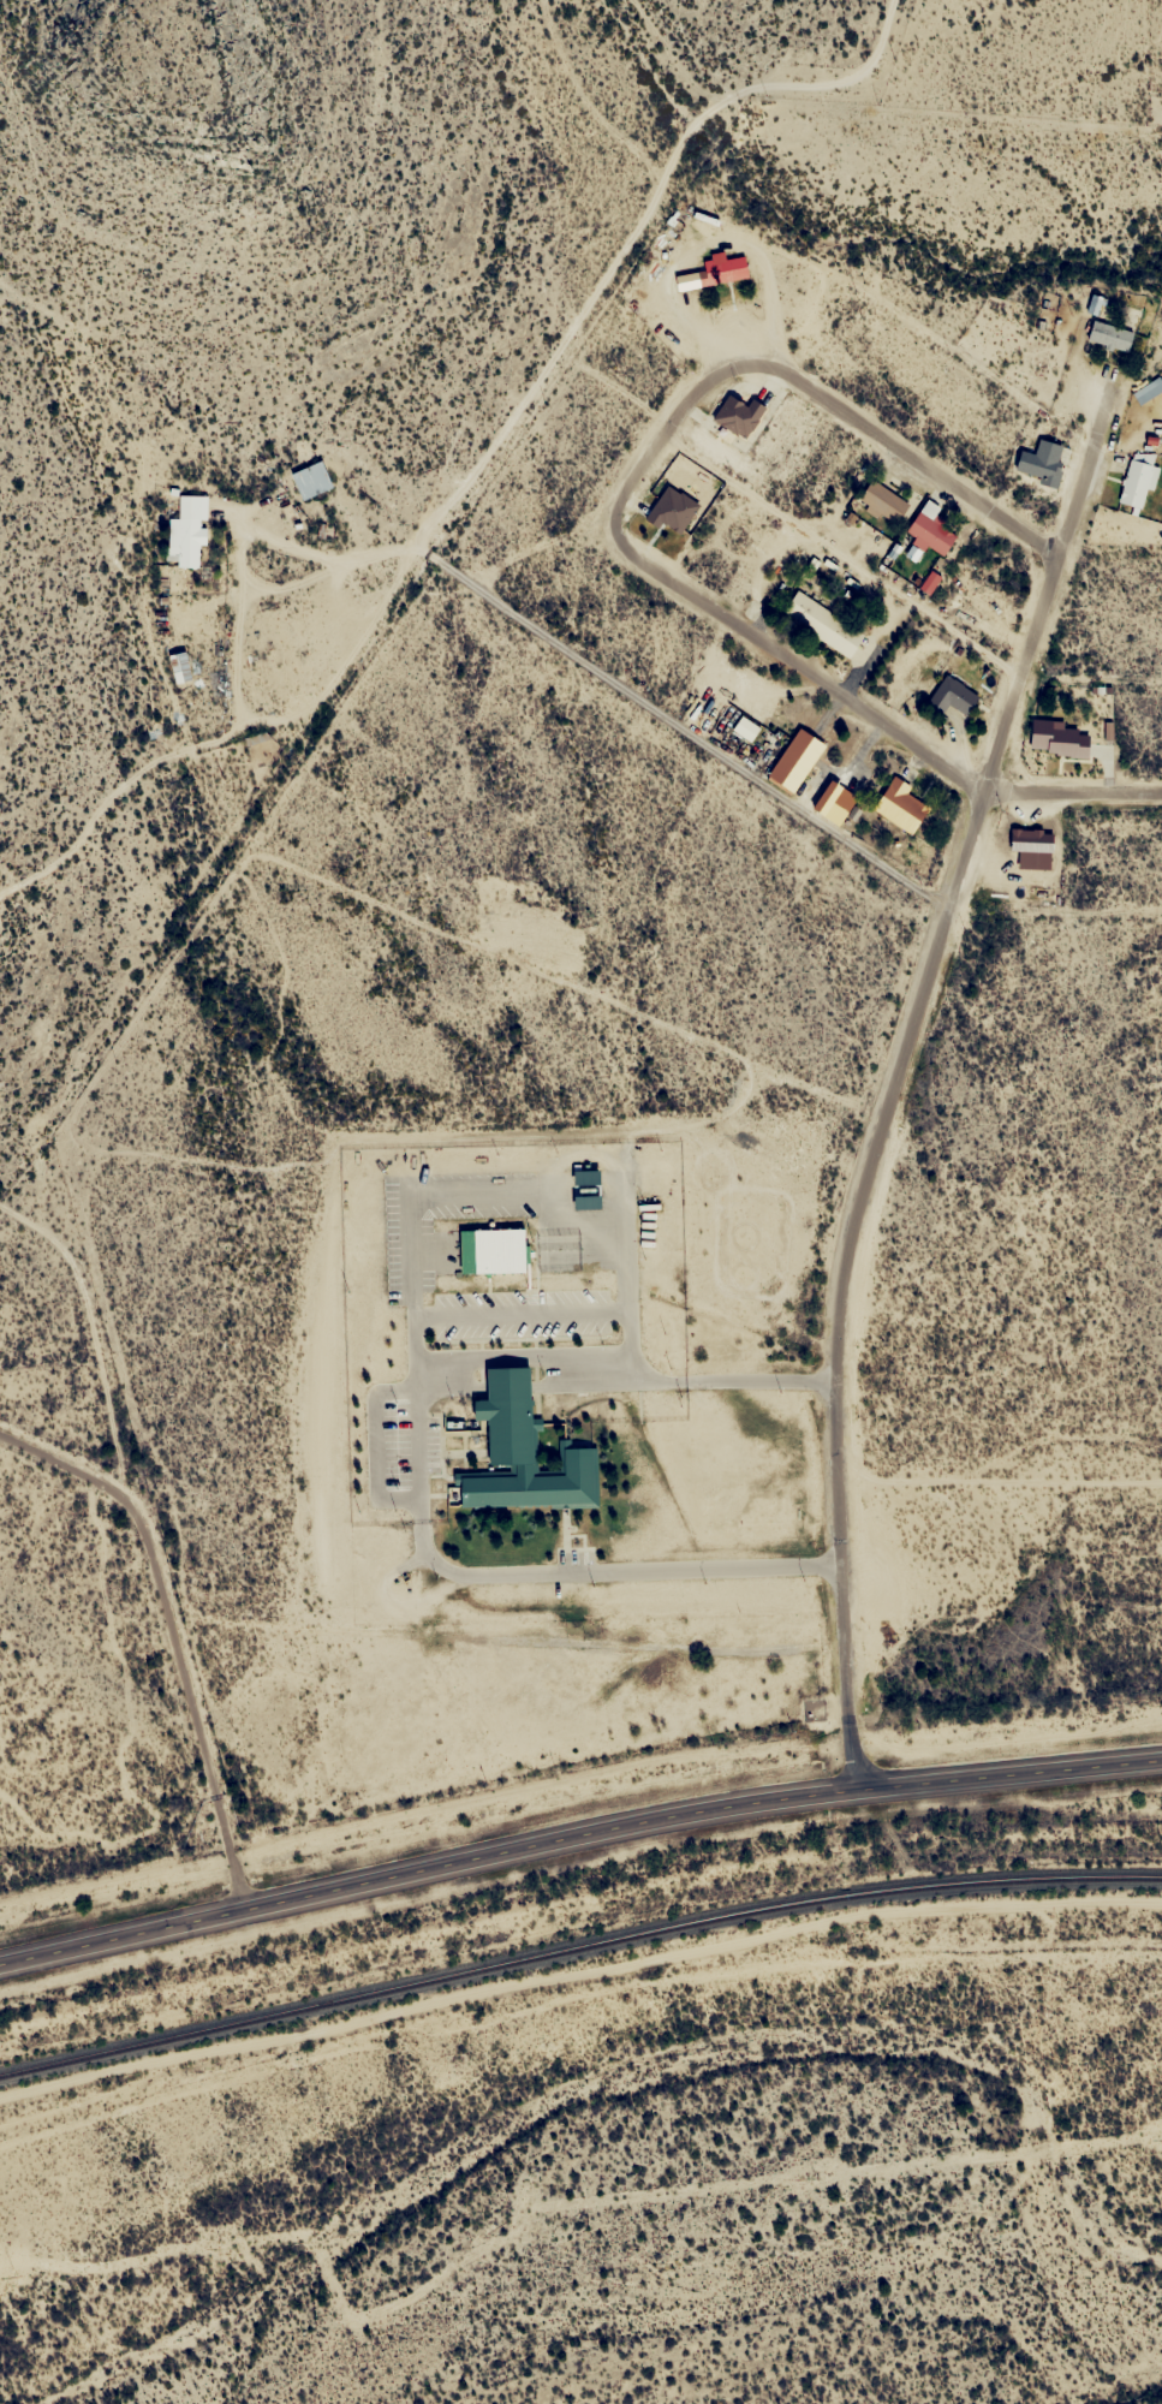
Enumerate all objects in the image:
building: (717, 272)
building: (1107, 337)
building: (1146, 391)
building: (735, 416)
building: (1038, 462)
road: (642, 466)
building: (309, 480)
building: (1136, 481)
building: (880, 502)
building: (668, 510)
building: (926, 530)
building: (185, 532)
building: (820, 624)
building: (948, 698)
building: (792, 761)
road: (1069, 791)
building: (899, 805)
road: (889, 1079)
building: (582, 1178)
building: (473, 1250)
building: (519, 1454)
road: (410, 1471)
road: (173, 1527)
road: (576, 1834)
railway: (577, 1945)

